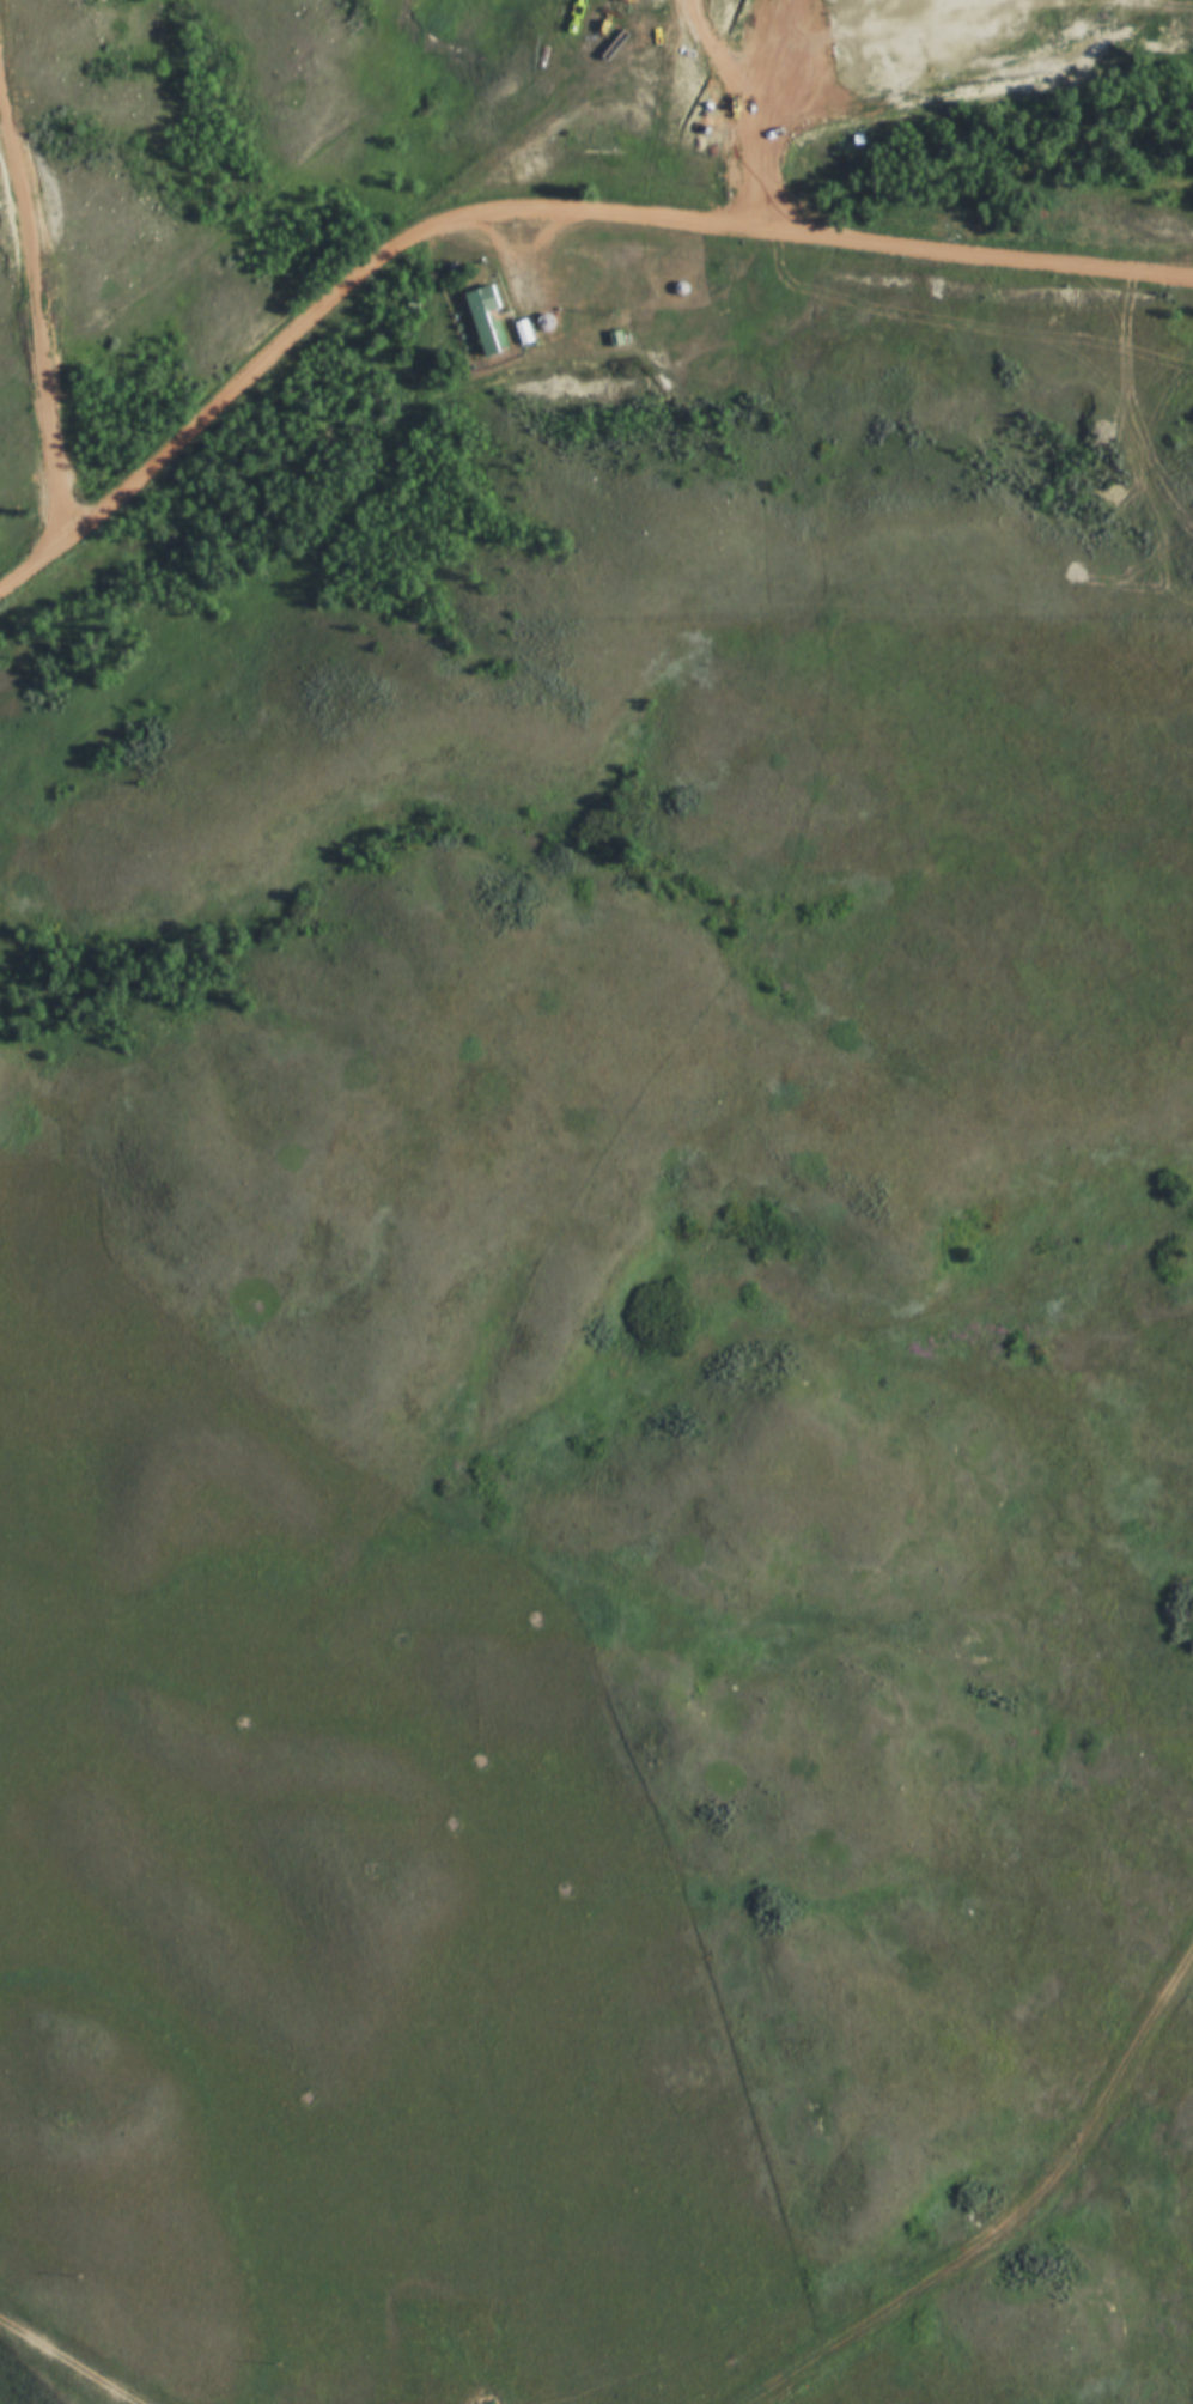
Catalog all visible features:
road: (639, 37)
road: (531, 207)
road: (523, 265)
building: (482, 316)
building: (522, 332)

